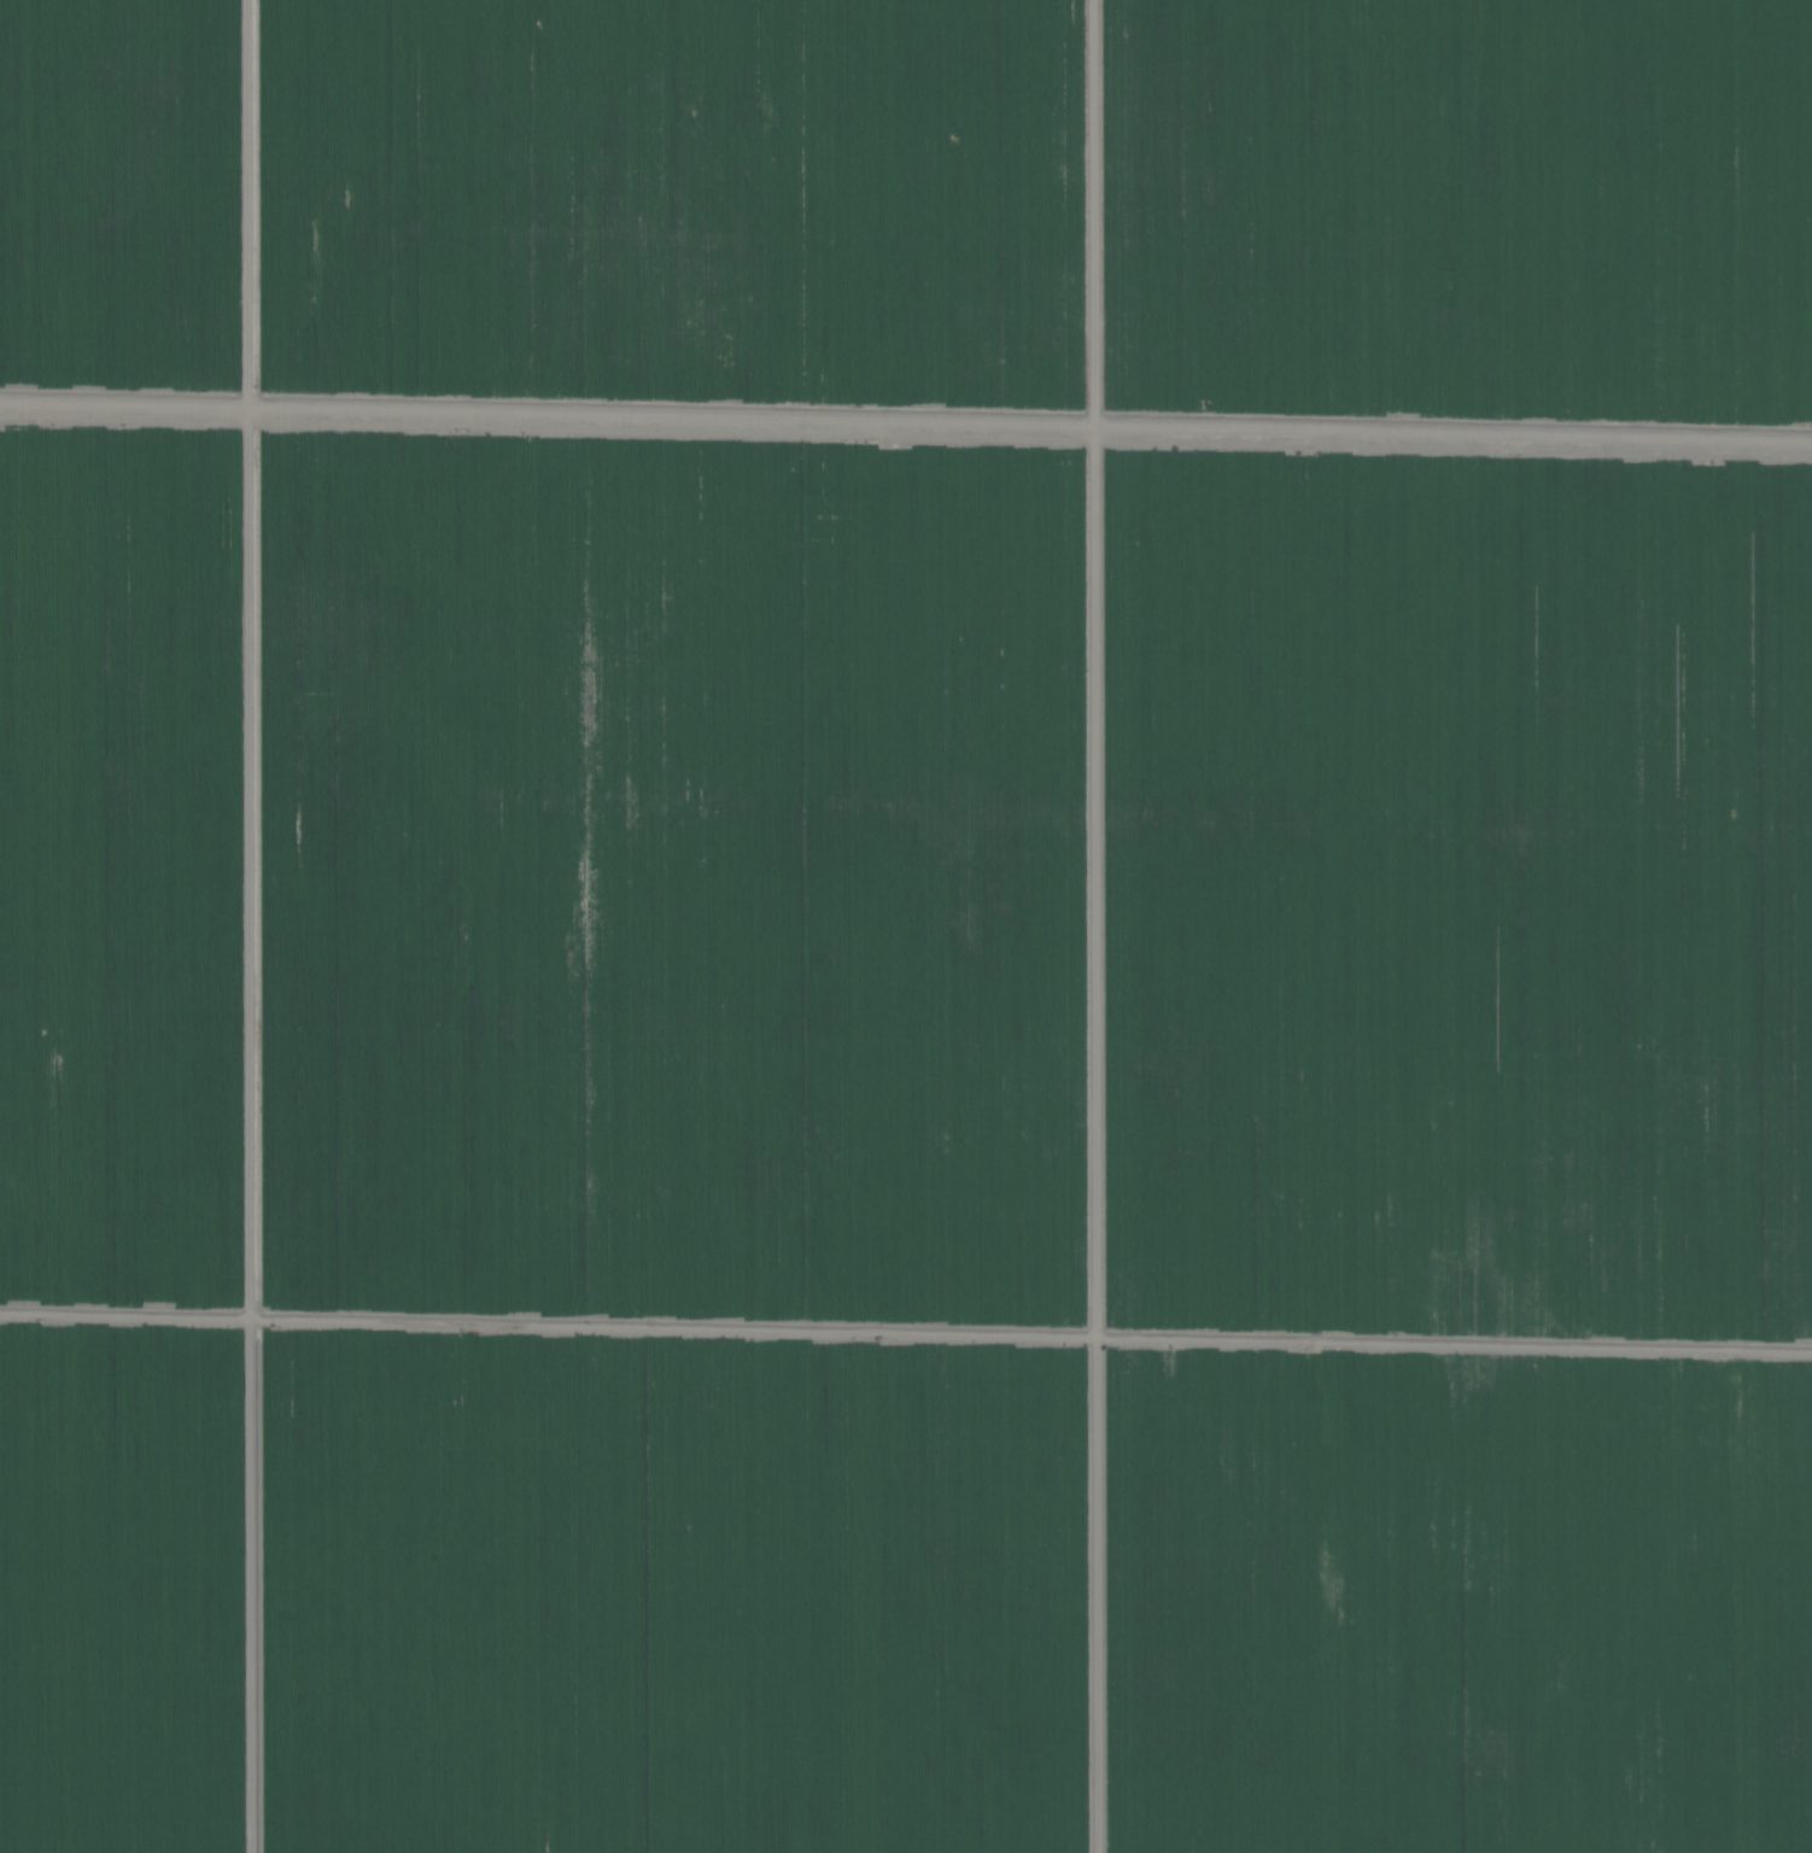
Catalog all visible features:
crop: (906, 926)

